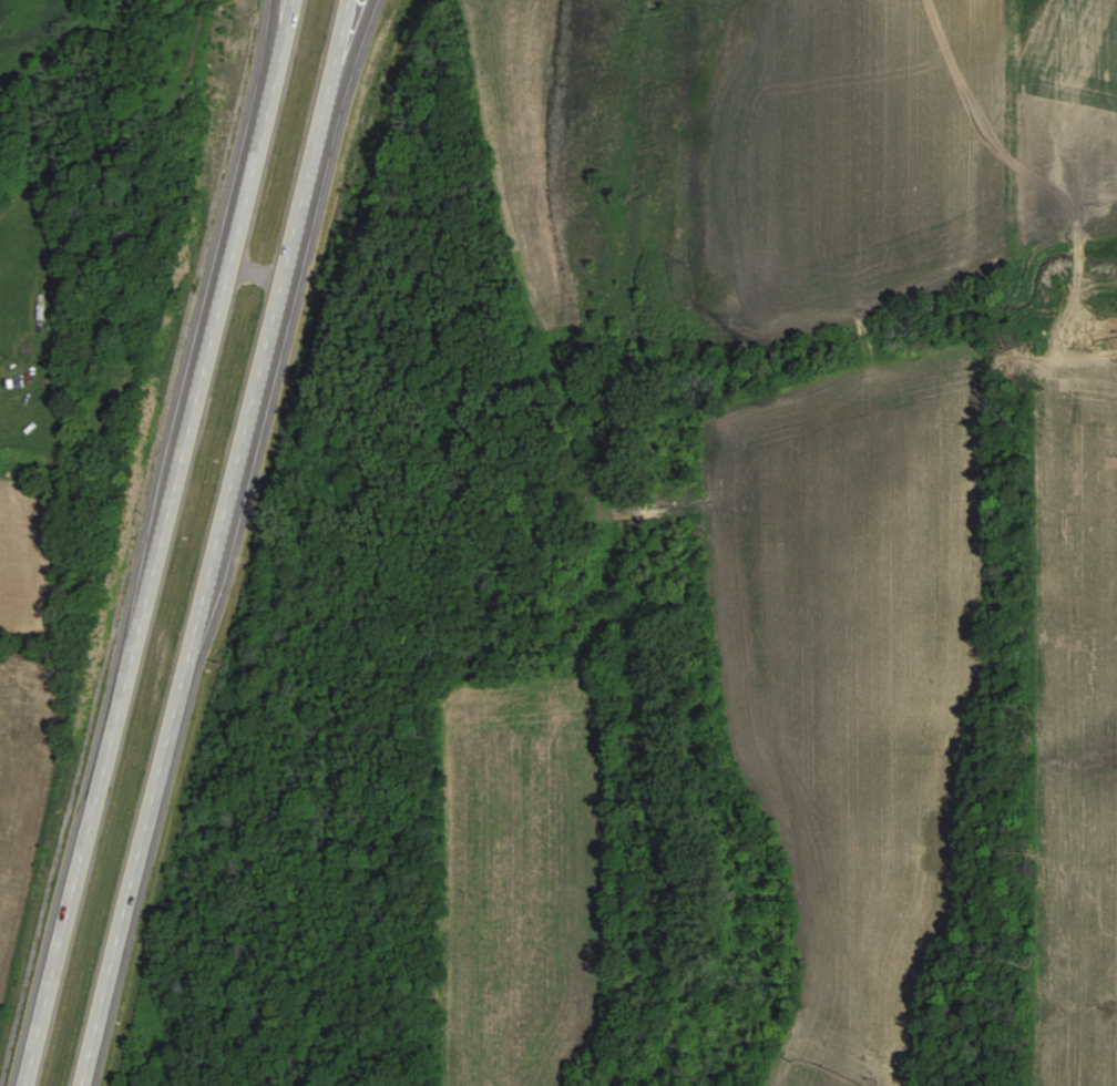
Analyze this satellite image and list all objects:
road: (264, 44)
road: (346, 54)
road: (254, 253)
road: (209, 542)
road: (154, 543)

